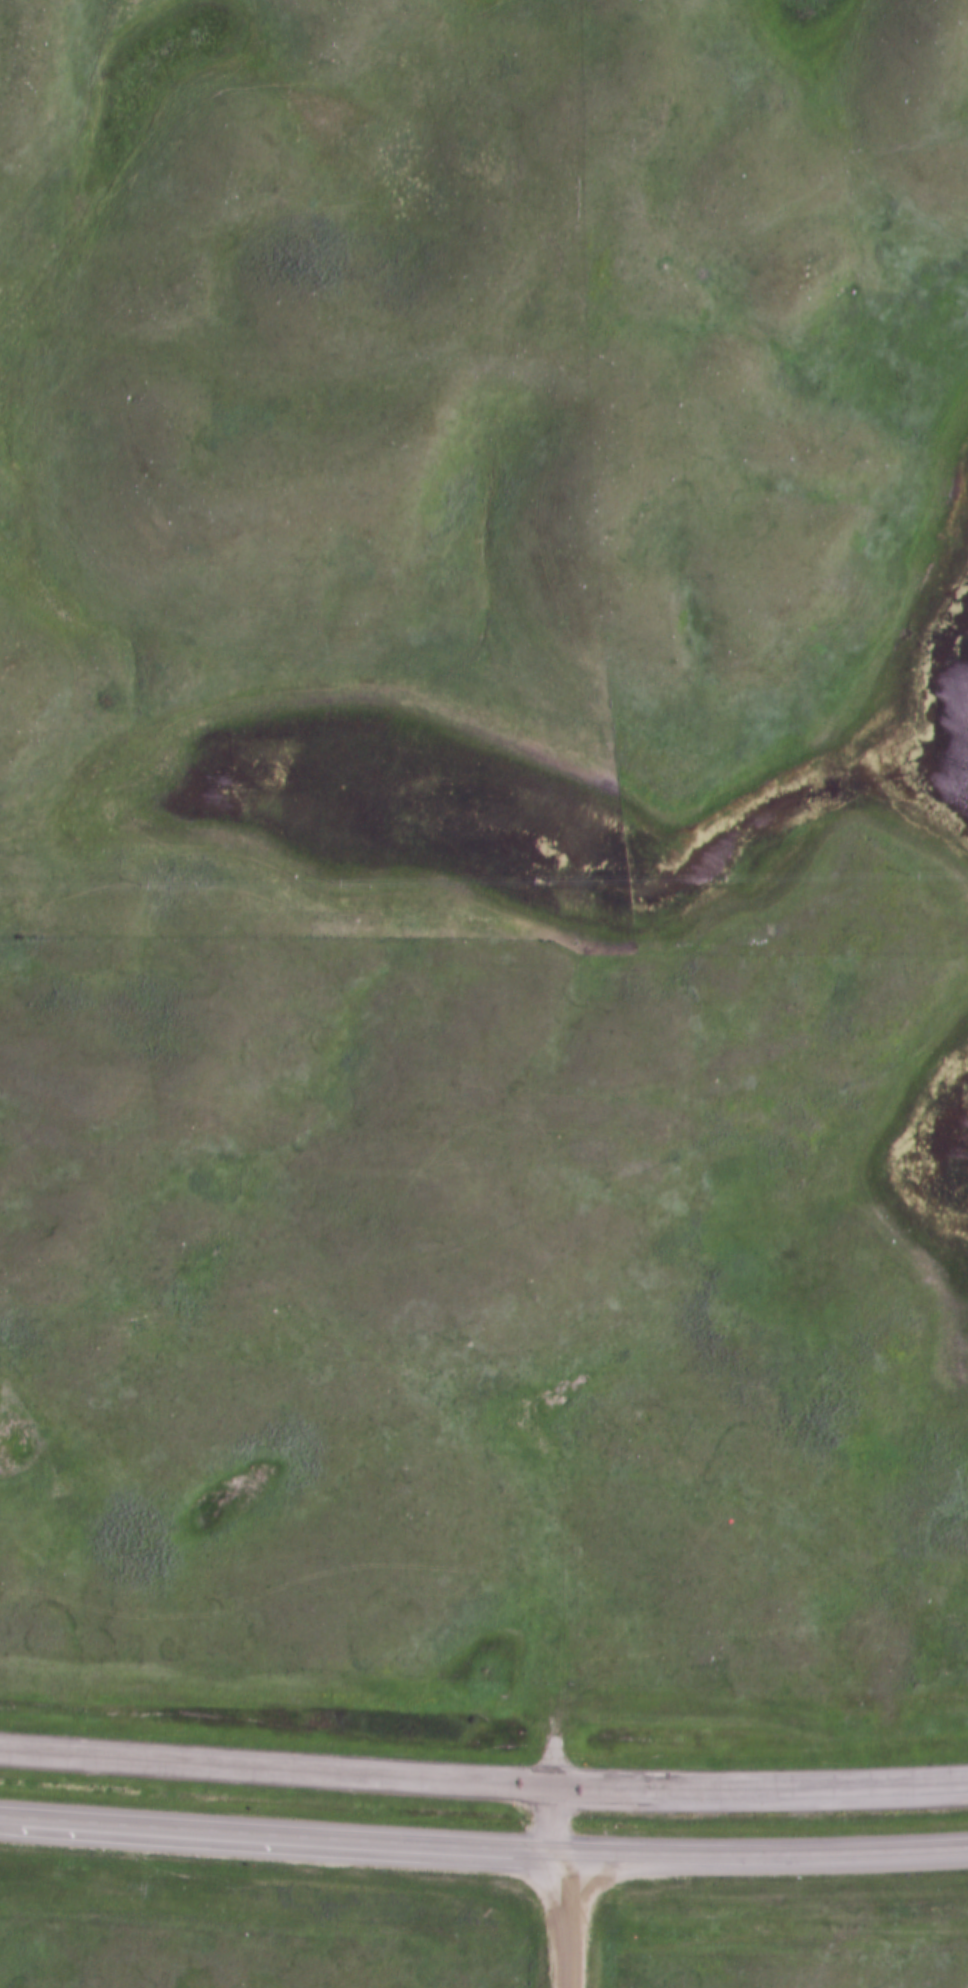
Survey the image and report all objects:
road: (483, 1783)
road: (550, 1820)
road: (483, 1849)
road: (551, 1920)

